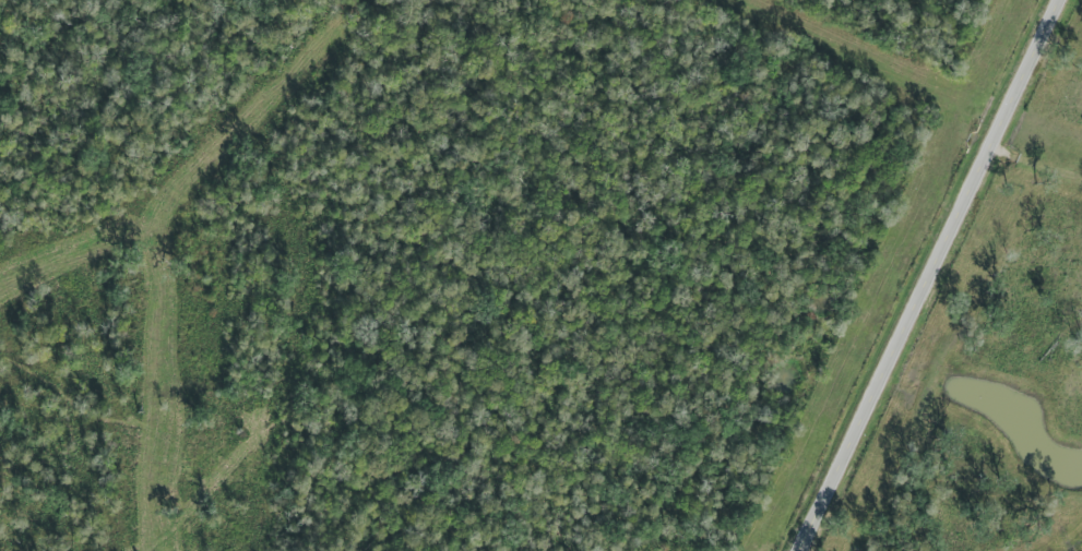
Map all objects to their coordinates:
road: (928, 275)

